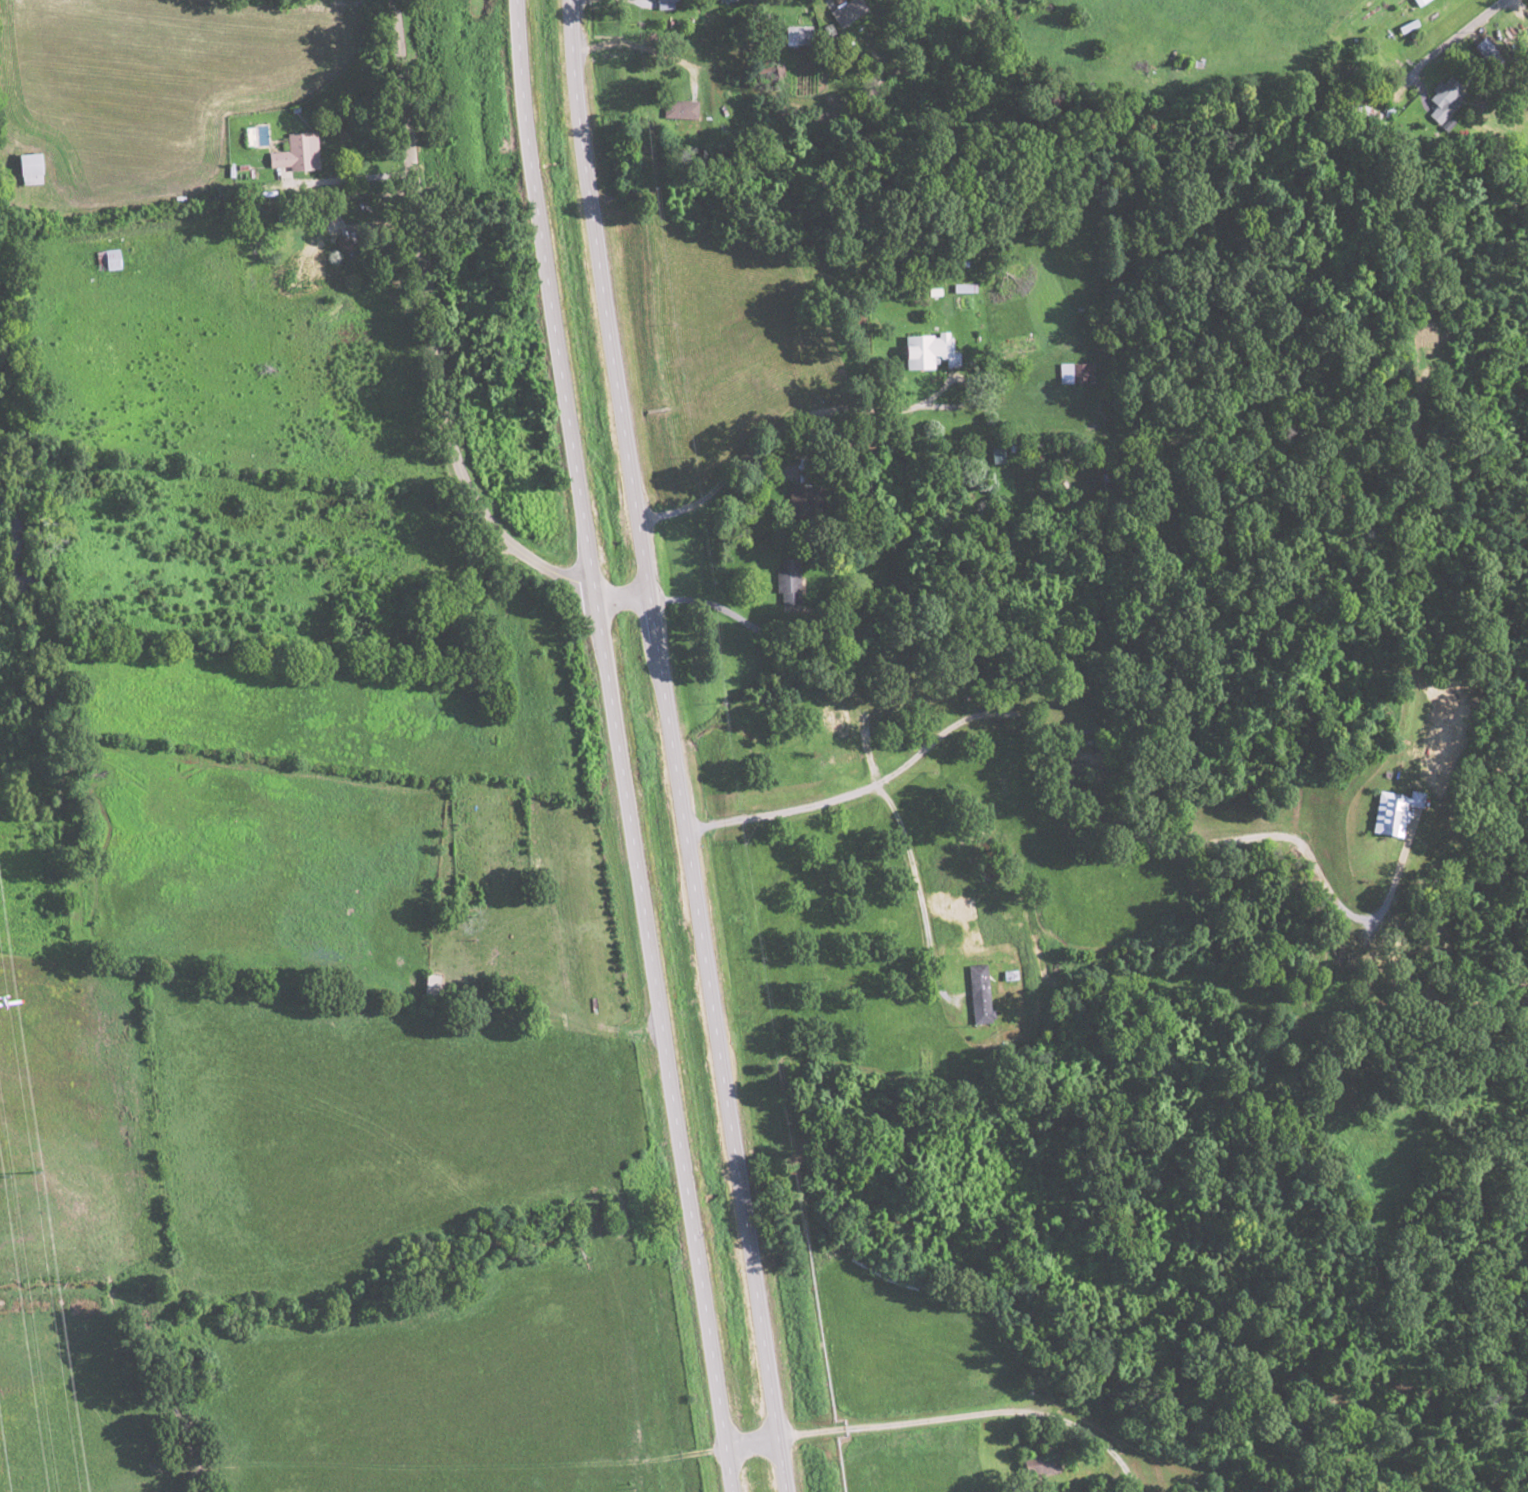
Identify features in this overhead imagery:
building: (663, 1)
building: (1416, 2)
building: (846, 11)
building: (1485, 48)
road: (1454, 76)
building: (1447, 102)
building: (284, 159)
building: (30, 169)
building: (112, 262)
road: (551, 295)
road: (603, 298)
building: (928, 348)
road: (434, 355)
building: (489, 966)
road: (713, 1016)
road: (662, 1041)
power tower: (17, 1174)
road: (753, 1441)
building: (1039, 1463)
road: (784, 1464)

